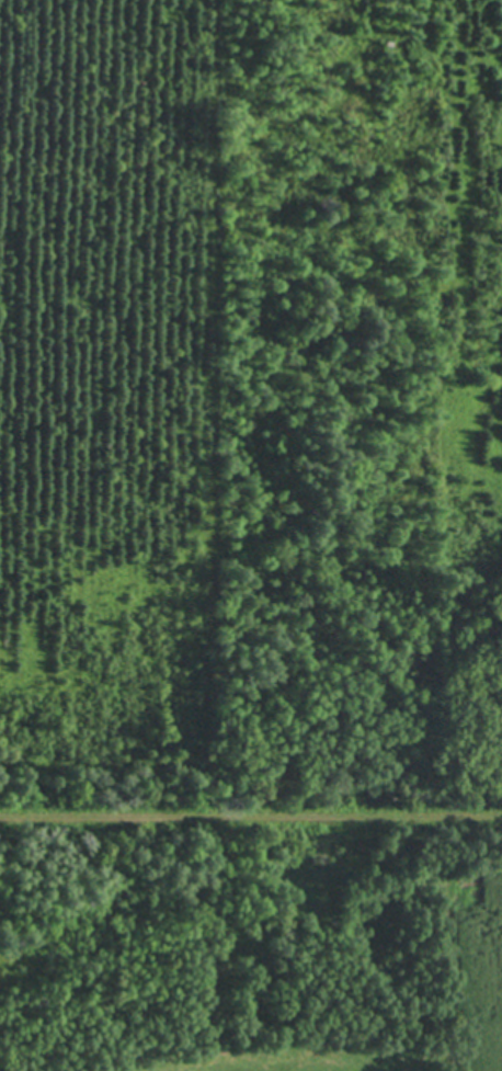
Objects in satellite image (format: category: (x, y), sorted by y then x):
road: (250, 817)

